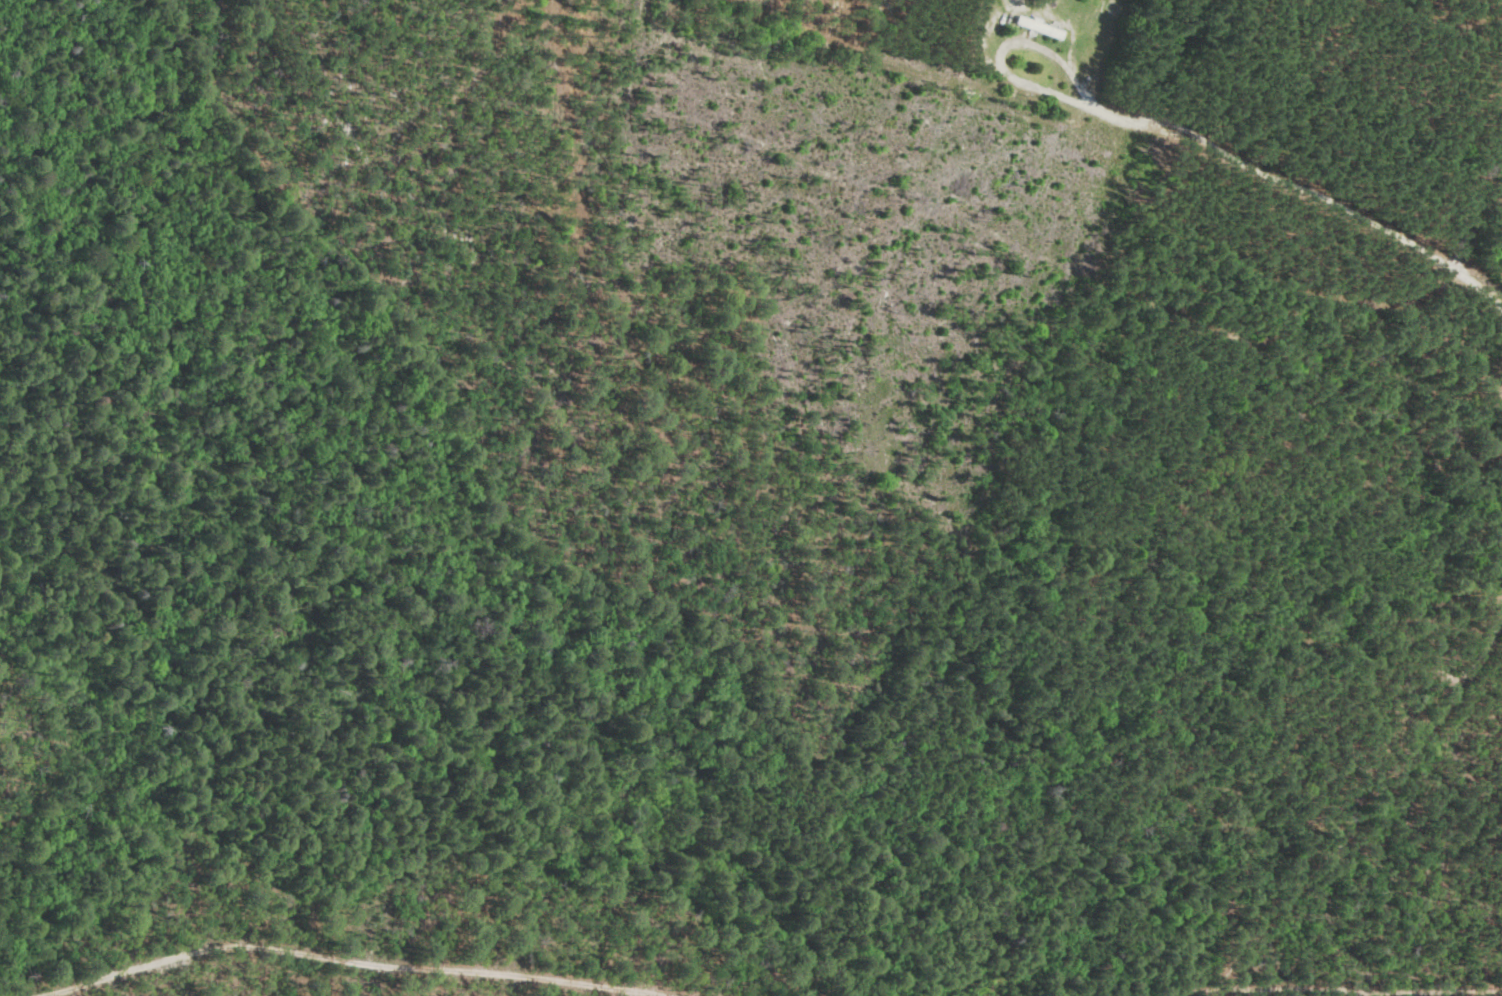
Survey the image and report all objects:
building: (1038, 25)

